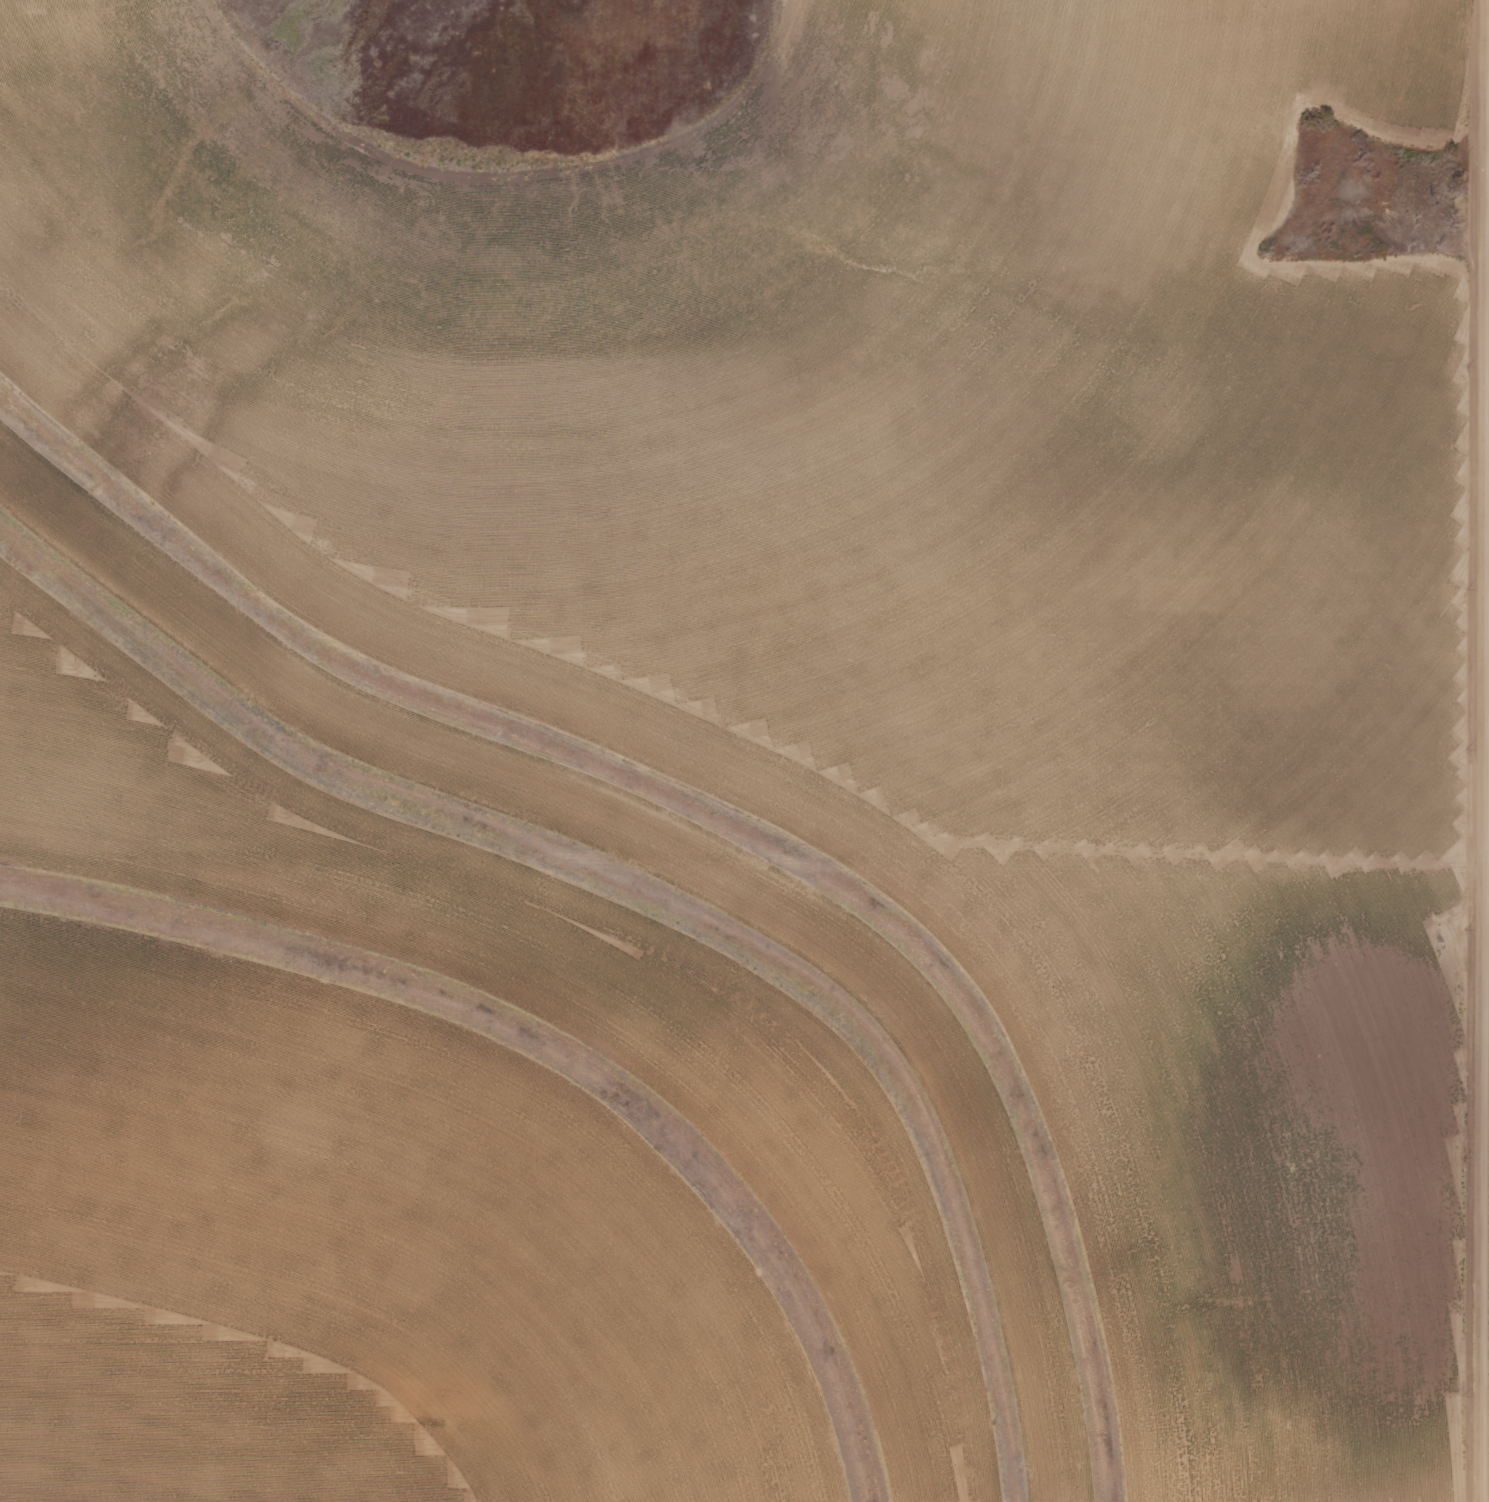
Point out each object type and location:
road: (1487, 1307)

